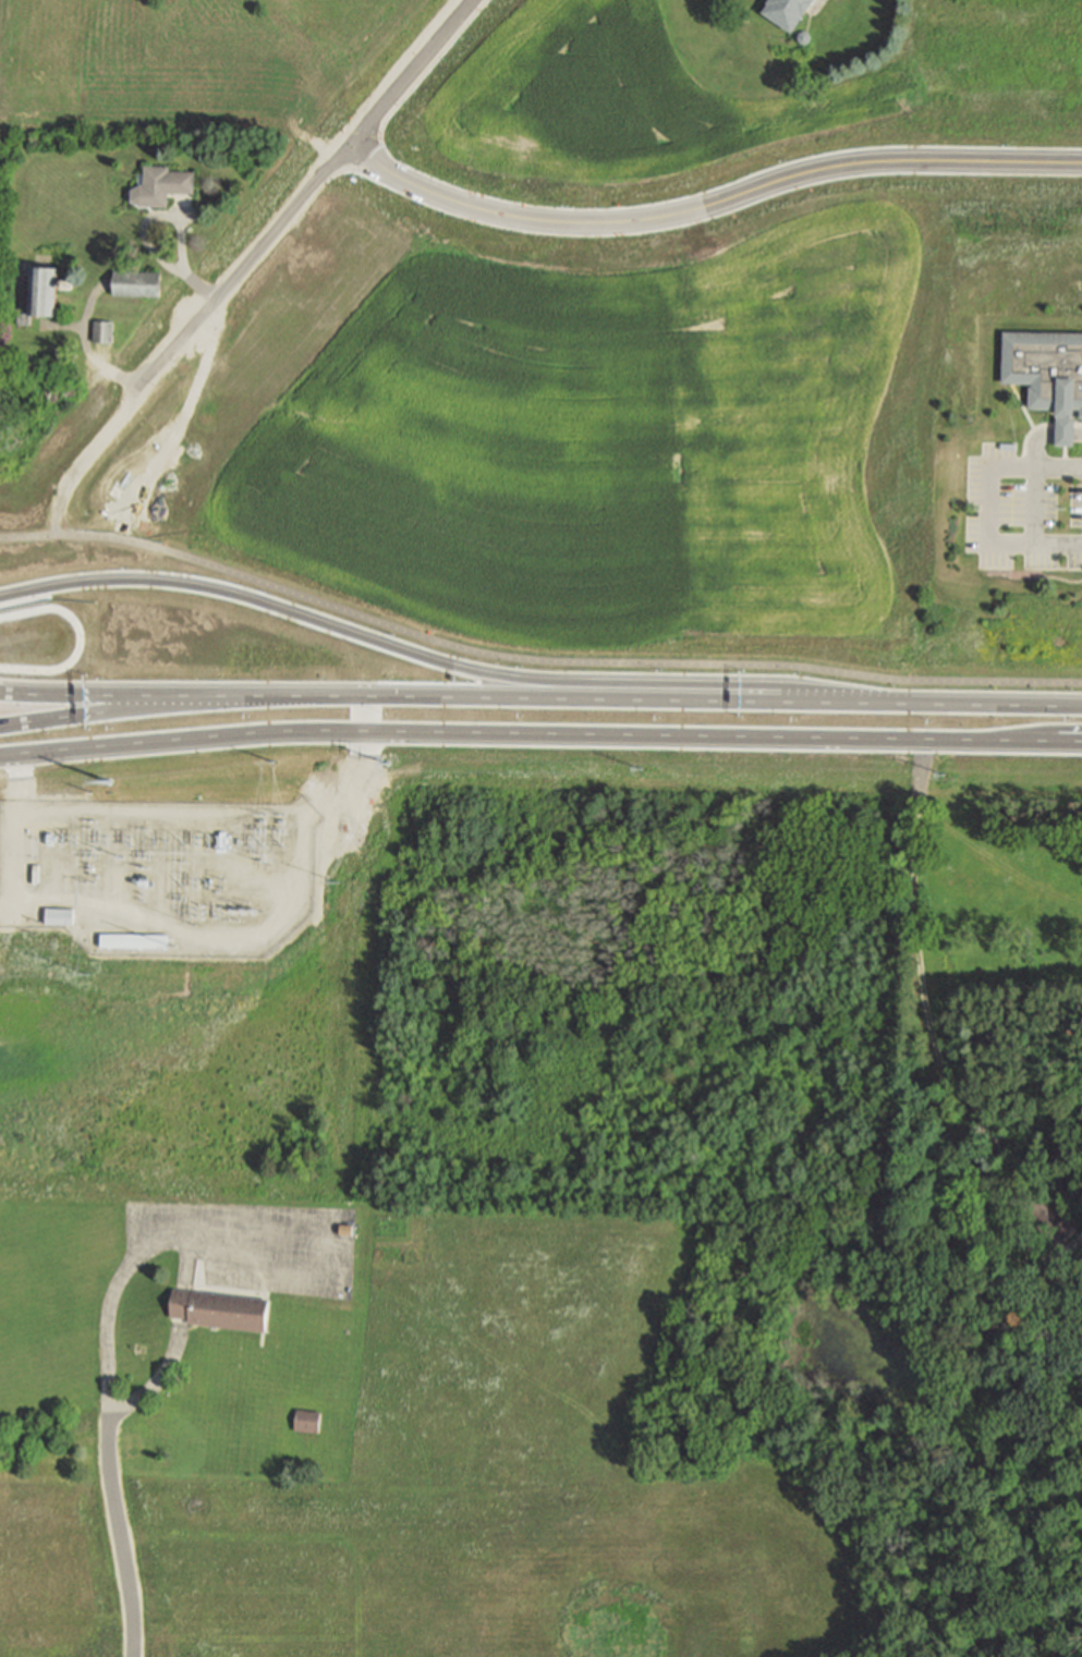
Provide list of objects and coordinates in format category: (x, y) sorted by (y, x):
building: (785, 11)
road: (329, 167)
building: (161, 184)
road: (708, 206)
building: (136, 282)
building: (46, 289)
building: (26, 318)
building: (104, 330)
building: (1047, 375)
road: (1023, 409)
crop: (569, 421)
road: (1067, 426)
road: (1079, 427)
road: (110, 430)
road: (1067, 435)
road: (1079, 435)
road: (1030, 436)
road: (1036, 465)
road: (1037, 505)
parking lot: (1022, 514)
road: (992, 527)
road: (77, 642)
road: (433, 657)
road: (532, 663)
road: (516, 697)
road: (81, 698)
road: (943, 703)
road: (1047, 706)
road: (81, 715)
road: (399, 731)
road: (940, 739)
power tower: (273, 763)
power tower: (386, 763)
power tower: (640, 765)
power tower: (940, 767)
power tower: (110, 781)
building: (40, 782)
power tower: (278, 814)
power tower: (260, 815)
power substation: (159, 874)
power tower: (336, 876)
power tower: (224, 877)
power tower: (81, 880)
building: (58, 913)
building: (135, 915)
road: (204, 935)
building: (132, 937)
power tower: (88, 975)
road: (924, 1021)
building: (1048, 1216)
building: (345, 1228)
road: (232, 1229)
parking lot: (252, 1245)
road: (150, 1251)
road: (246, 1266)
road: (182, 1302)
building: (220, 1308)
road: (126, 1405)
building: (306, 1420)
road: (121, 1535)

